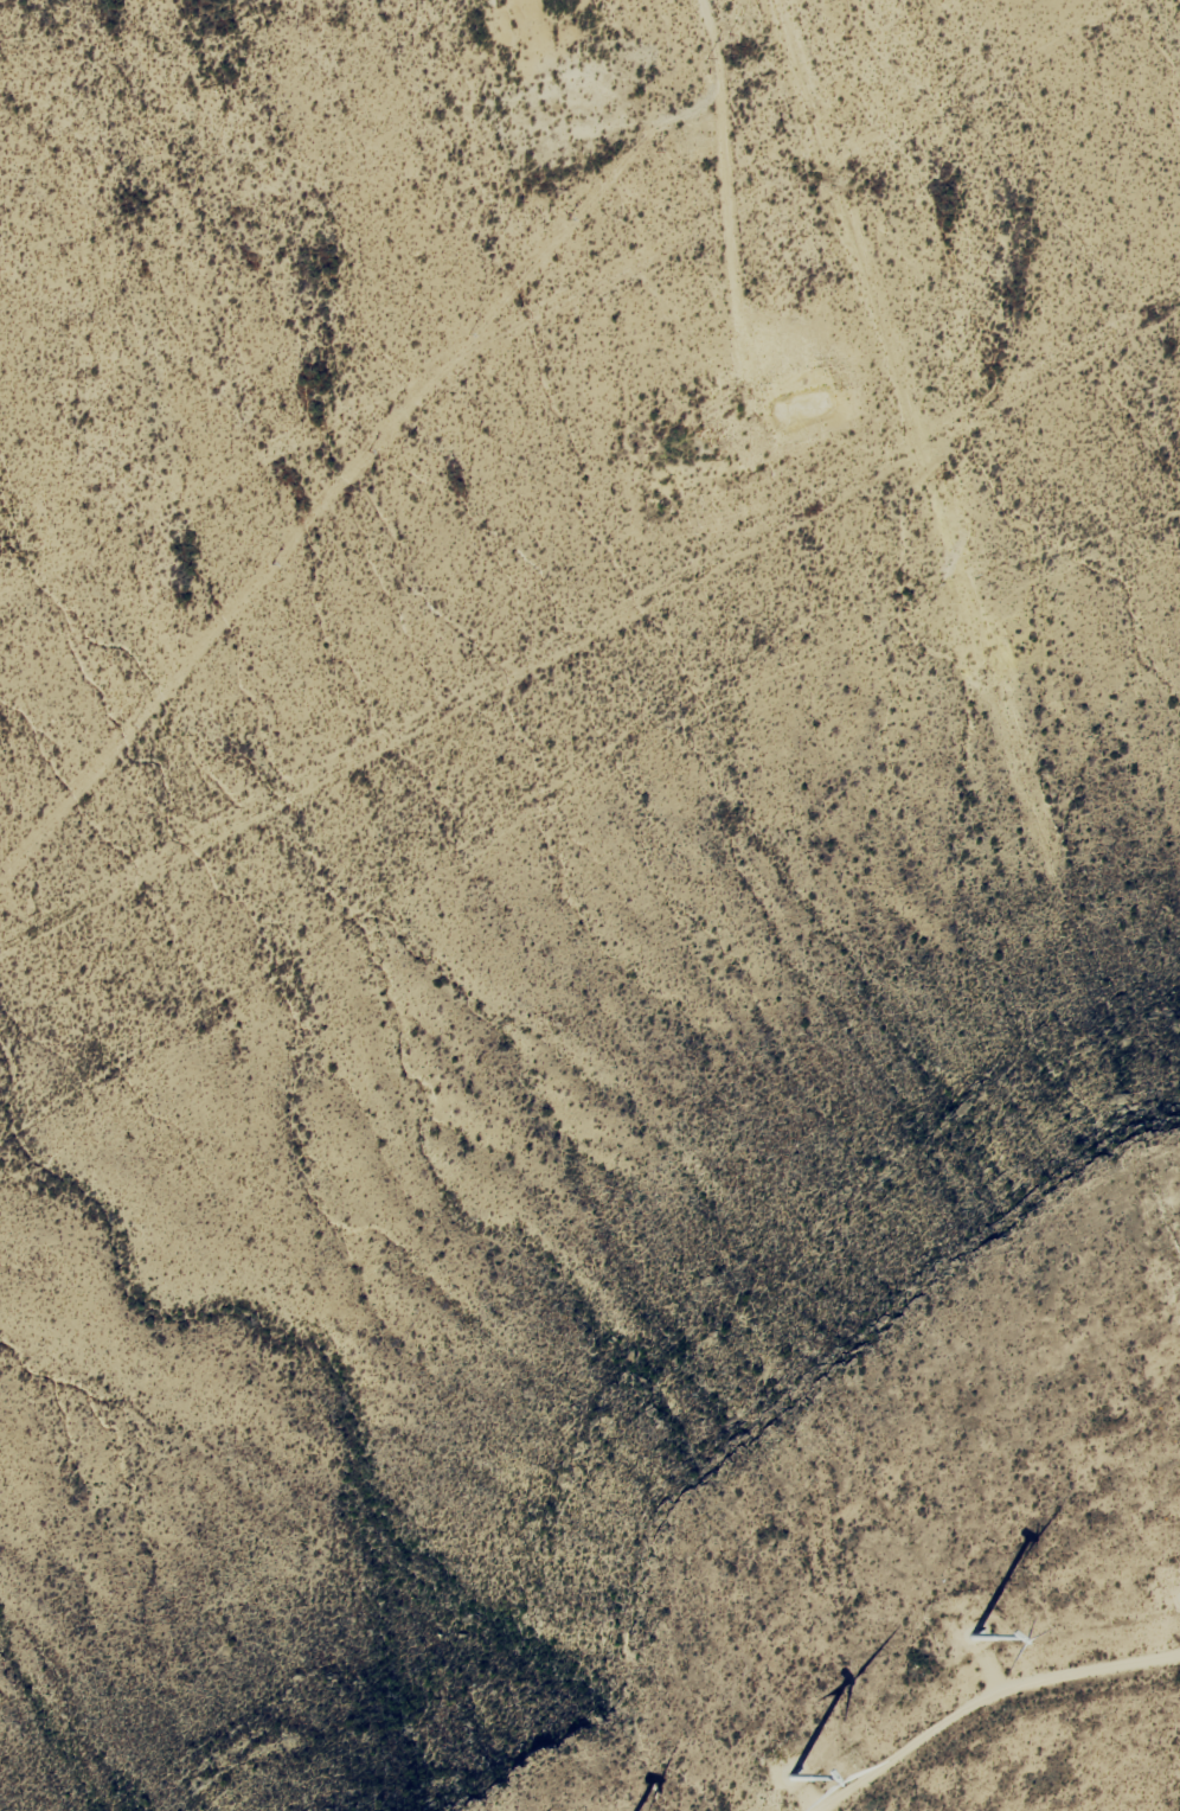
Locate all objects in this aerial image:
road: (688, 12)
wind turbine: (962, 1644)
wind turbine: (772, 1767)

